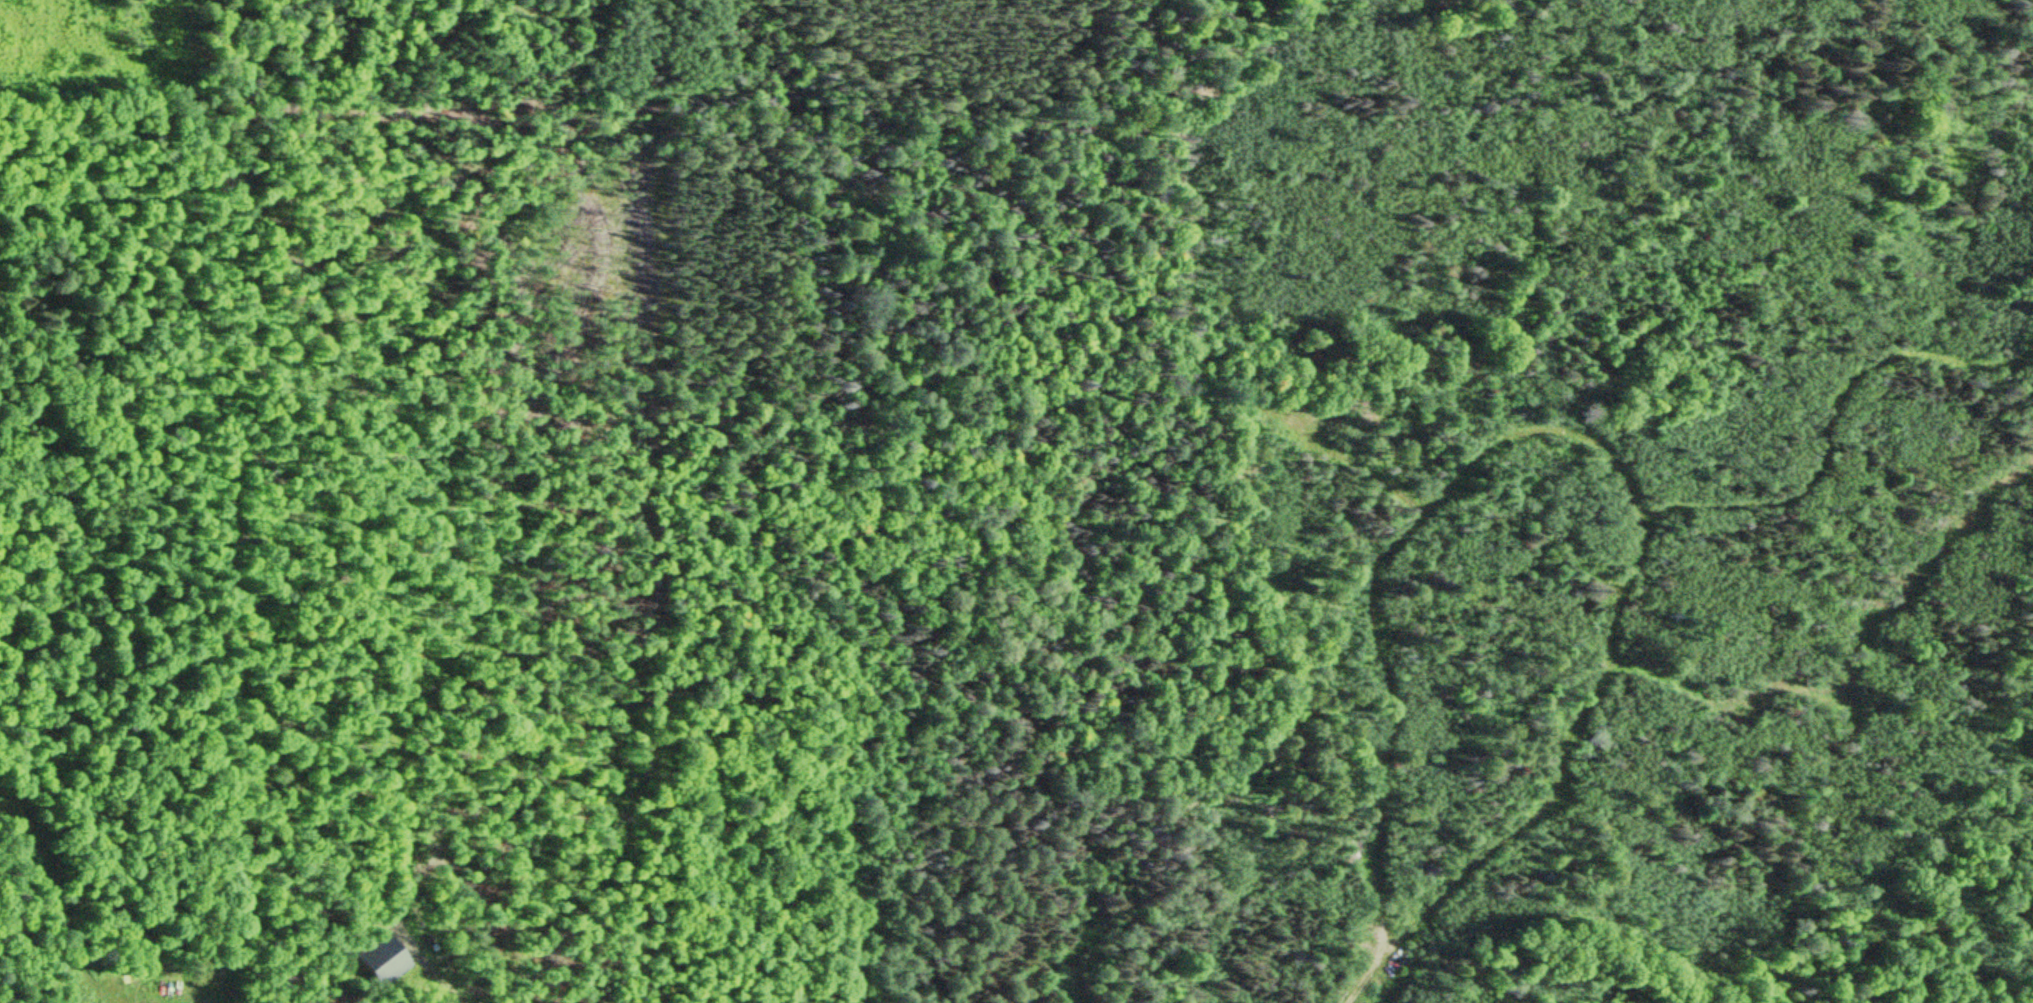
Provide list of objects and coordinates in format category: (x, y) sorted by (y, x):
building: (382, 963)

